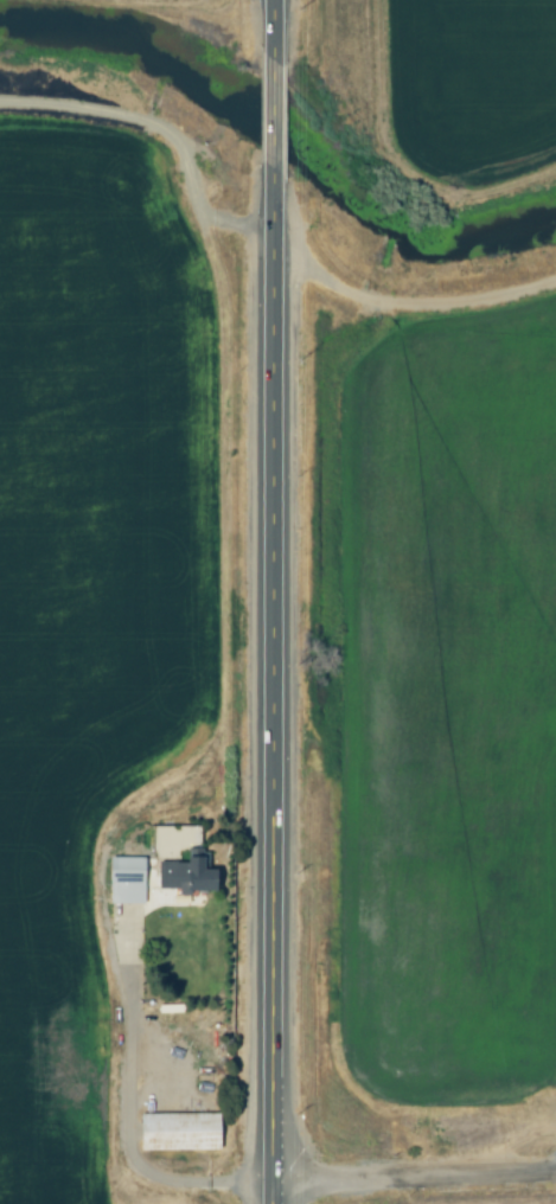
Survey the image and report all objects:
road: (270, 602)
building: (177, 862)
building: (123, 880)
building: (175, 1132)
road: (123, 1138)
road: (413, 1178)

